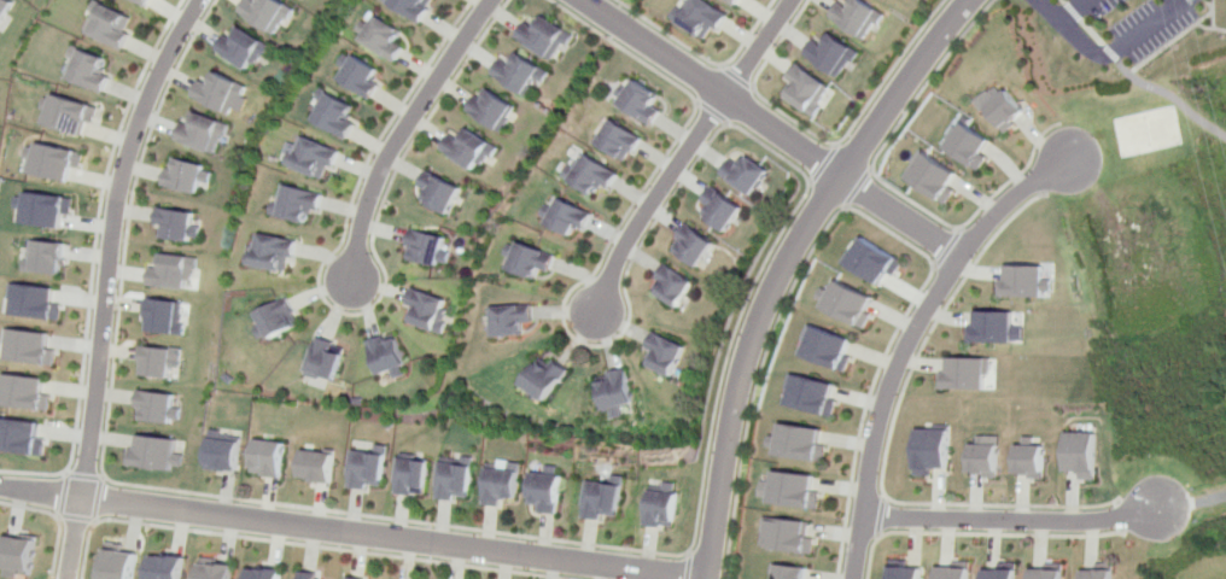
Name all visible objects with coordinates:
building: (141, 2)
building: (730, 2)
building: (4, 7)
building: (422, 8)
road: (1072, 8)
road: (1050, 10)
building: (272, 13)
building: (856, 17)
building: (700, 18)
building: (109, 24)
building: (548, 39)
building: (392, 40)
building: (246, 48)
road: (1121, 48)
building: (830, 54)
road: (701, 58)
building: (88, 68)
road: (889, 72)
building: (525, 74)
road: (734, 76)
building: (363, 77)
road: (1135, 80)
road: (711, 87)
road: (752, 87)
building: (806, 89)
power tower: (1212, 92)
building: (221, 93)
building: (643, 104)
building: (1004, 109)
building: (497, 110)
road: (711, 111)
building: (69, 113)
building: (339, 117)
road: (404, 129)
park: (1148, 130)
building: (204, 131)
building: (624, 140)
building: (968, 145)
building: (472, 150)
road: (684, 152)
building: (317, 157)
building: (54, 160)
road: (822, 164)
building: (591, 174)
building: (187, 175)
building: (751, 175)
building: (932, 176)
road: (886, 185)
road: (857, 187)
building: (443, 194)
road: (1010, 198)
building: (299, 203)
building: (47, 209)
building: (725, 211)
road: (863, 214)
road: (899, 216)
building: (565, 218)
building: (179, 226)
building: (696, 246)
road: (944, 246)
building: (428, 250)
building: (273, 253)
building: (47, 256)
building: (872, 259)
road: (94, 261)
building: (529, 261)
road: (783, 264)
building: (174, 273)
road: (106, 281)
building: (1022, 281)
building: (676, 287)
building: (36, 302)
building: (848, 303)
building: (432, 312)
road: (351, 314)
building: (167, 316)
building: (276, 318)
building: (514, 321)
building: (992, 327)
building: (30, 346)
building: (828, 347)
building: (669, 356)
building: (392, 357)
building: (158, 361)
building: (327, 361)
building: (962, 373)
road: (888, 379)
building: (548, 380)
building: (24, 392)
building: (619, 392)
building: (813, 394)
building: (153, 407)
building: (21, 437)
road: (886, 440)
building: (800, 441)
building: (927, 450)
building: (222, 452)
building: (152, 454)
building: (1079, 454)
building: (980, 455)
building: (1026, 457)
building: (267, 458)
building: (316, 464)
building: (366, 473)
road: (704, 473)
road: (81, 476)
building: (410, 479)
building: (457, 484)
building: (504, 487)
building: (792, 490)
road: (63, 493)
building: (550, 493)
road: (97, 499)
building: (602, 502)
road: (1196, 503)
building: (664, 508)
road: (1121, 514)
road: (58, 516)
road: (878, 516)
road: (76, 517)
road: (1014, 520)
road: (348, 533)
road: (977, 533)
building: (788, 534)
road: (859, 536)
road: (299, 544)
road: (856, 546)
building: (19, 555)
building: (122, 561)
road: (689, 565)
building: (168, 567)
building: (216, 569)
building: (790, 571)
building: (903, 571)
building: (1045, 571)
building: (1098, 571)
building: (951, 572)
building: (264, 573)
building: (999, 573)
building: (310, 574)
building: (354, 578)

